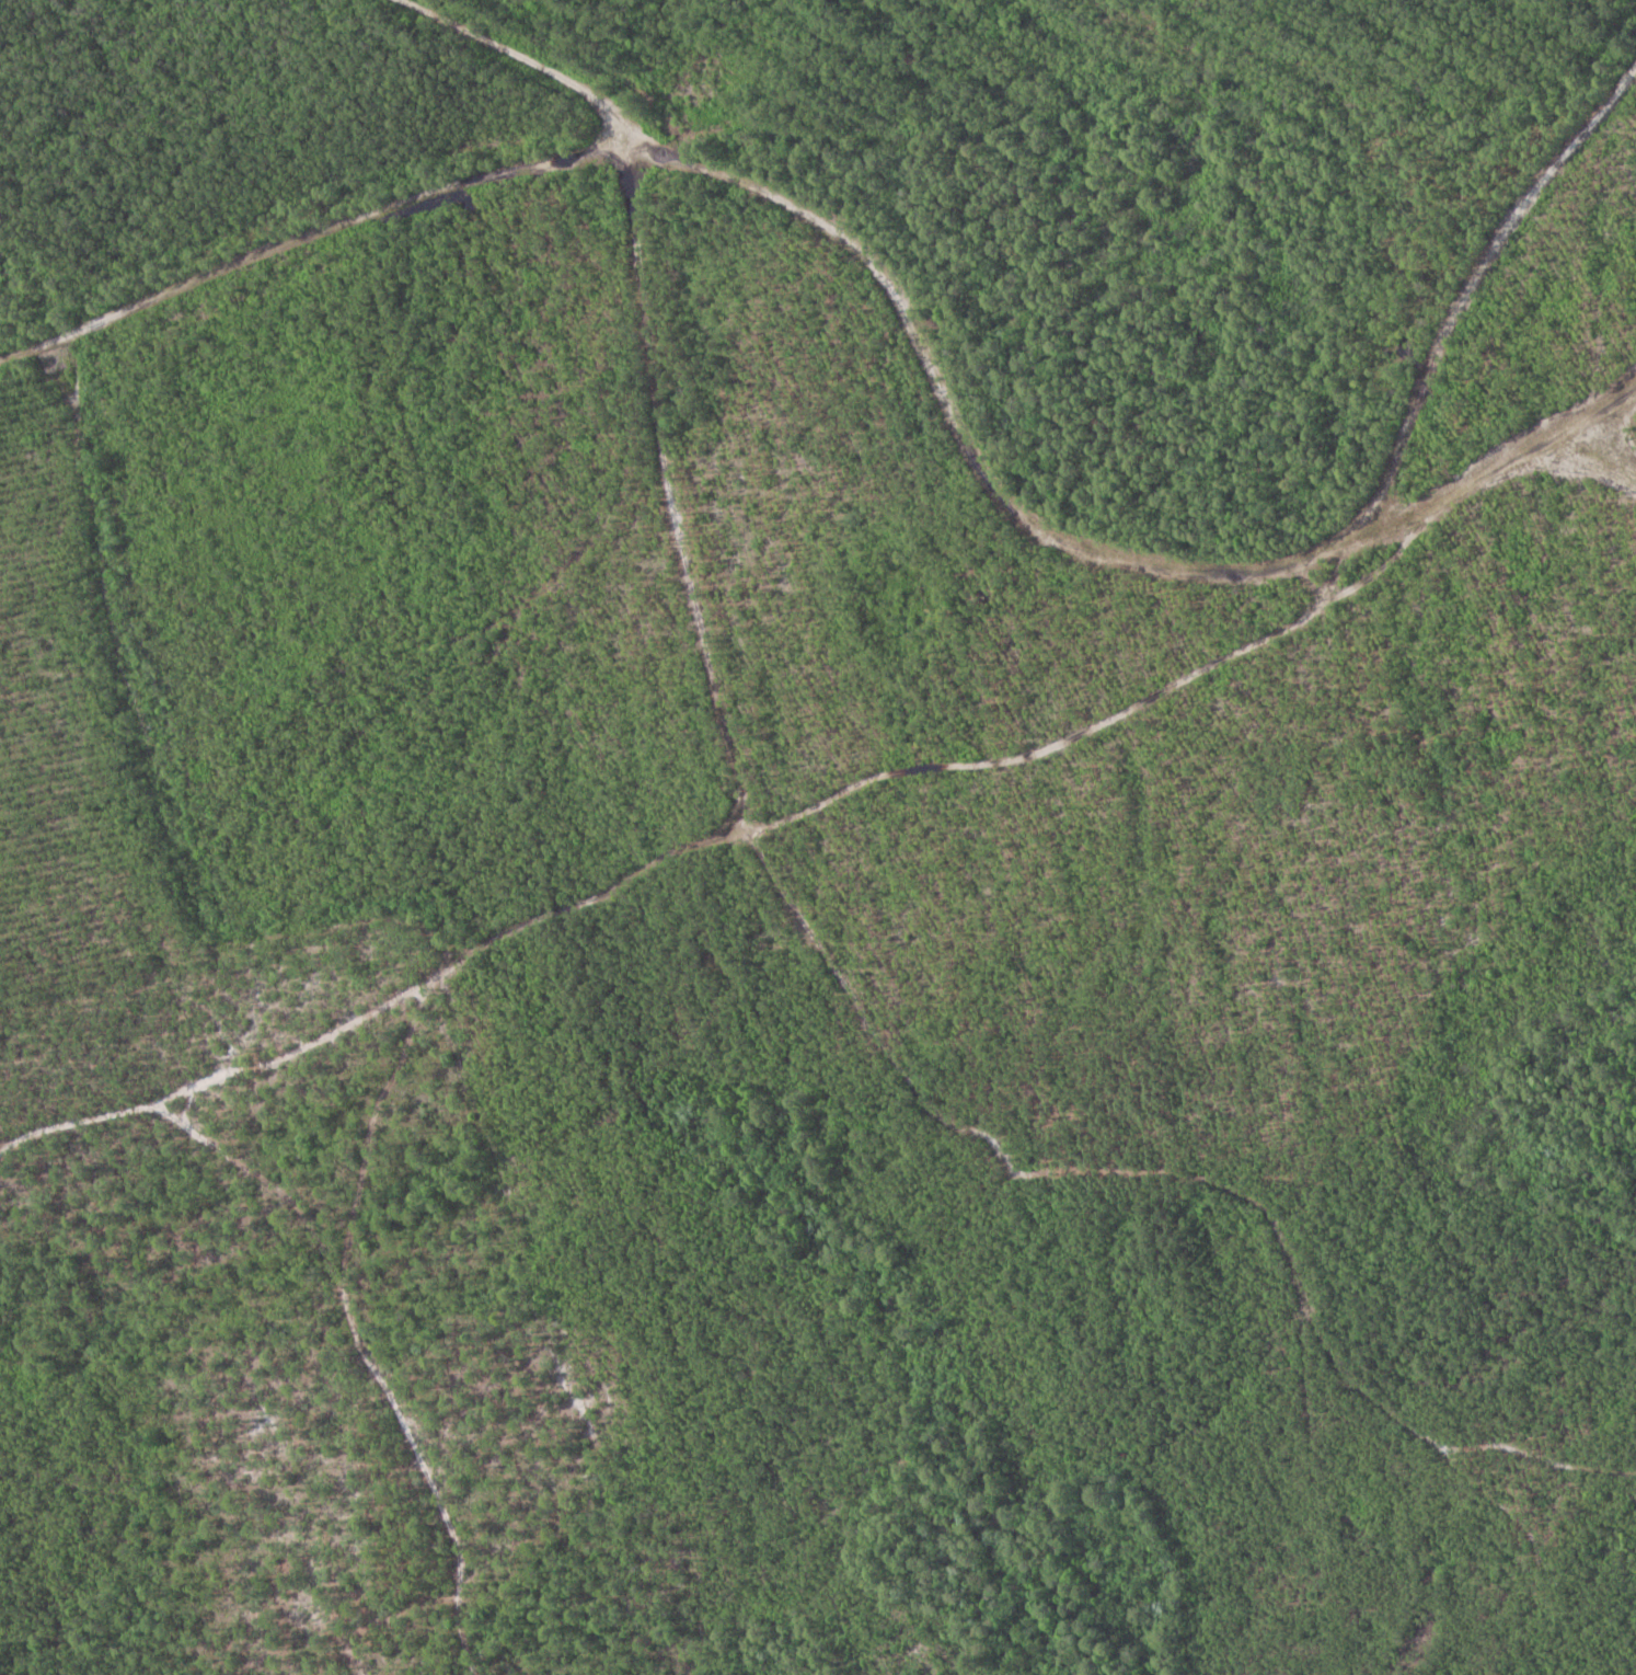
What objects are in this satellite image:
road: (521, 60)
road: (946, 380)
road: (1567, 437)
road: (814, 803)
road: (886, 1048)
road: (346, 1277)
road: (445, 1477)

